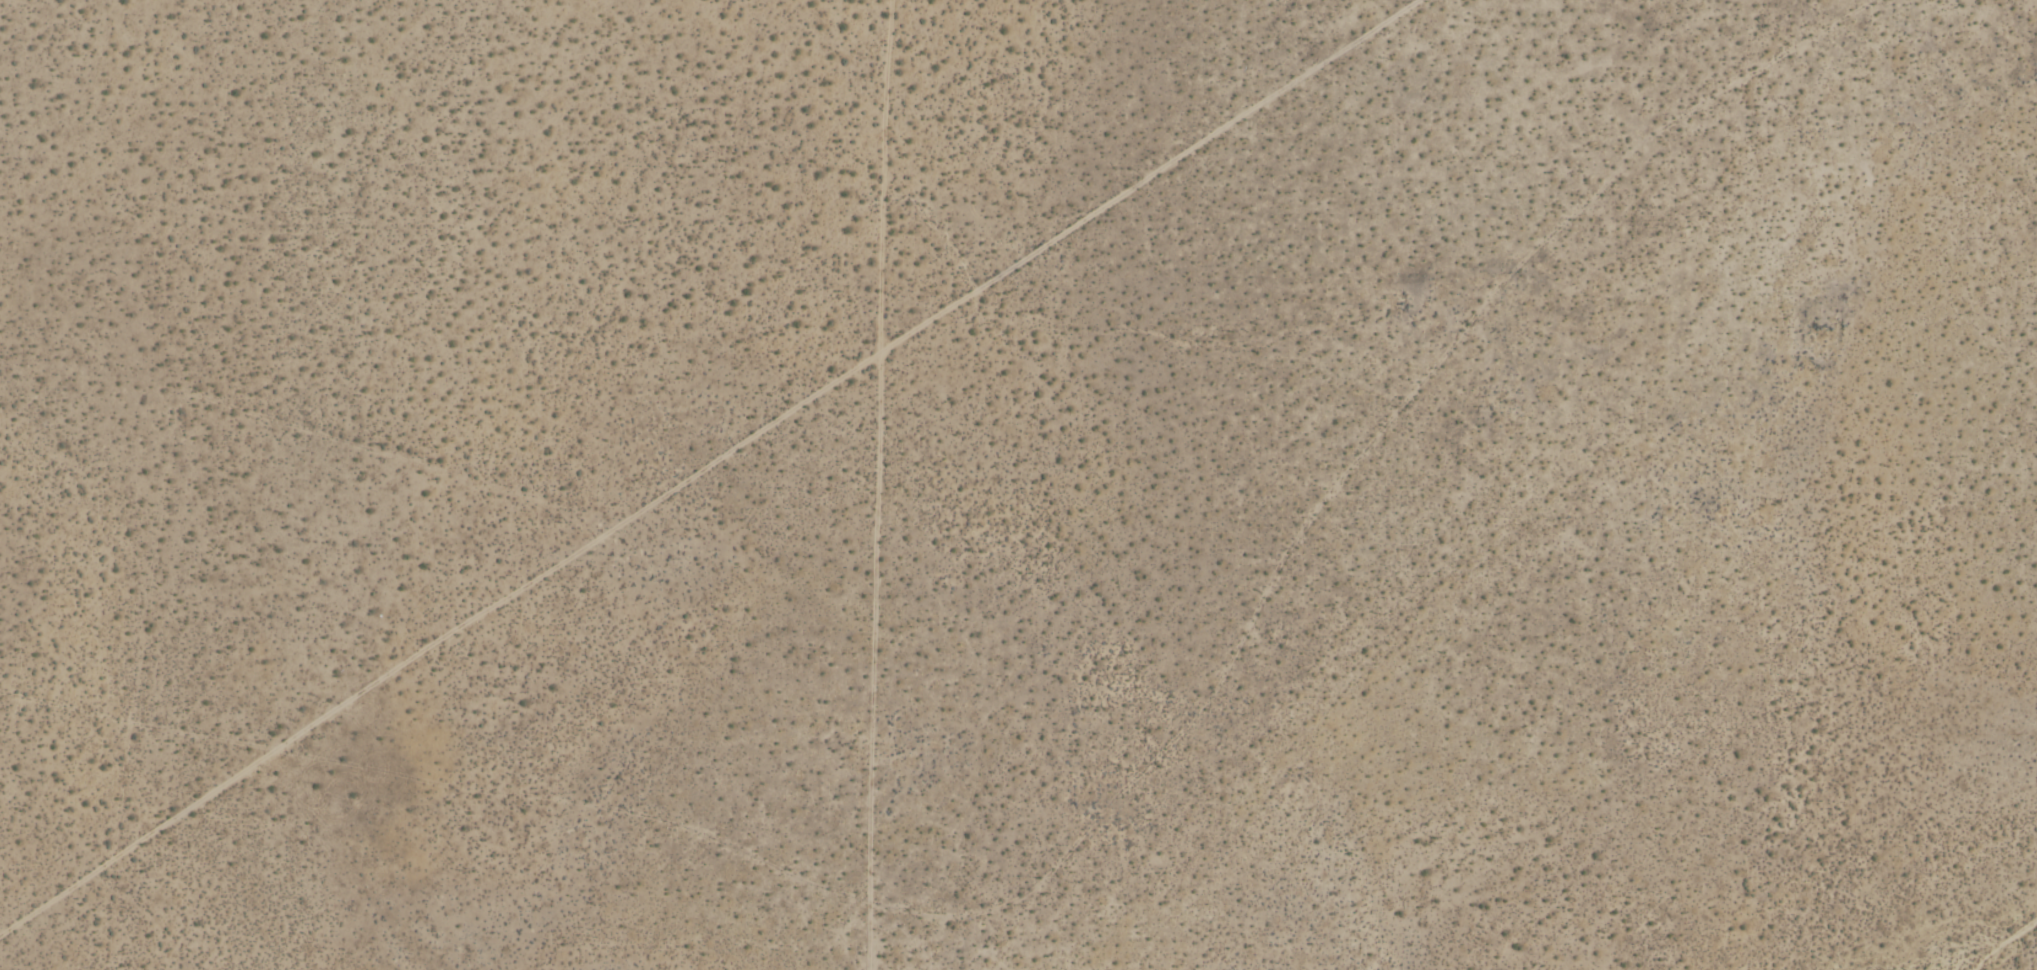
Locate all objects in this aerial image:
road: (712, 465)

